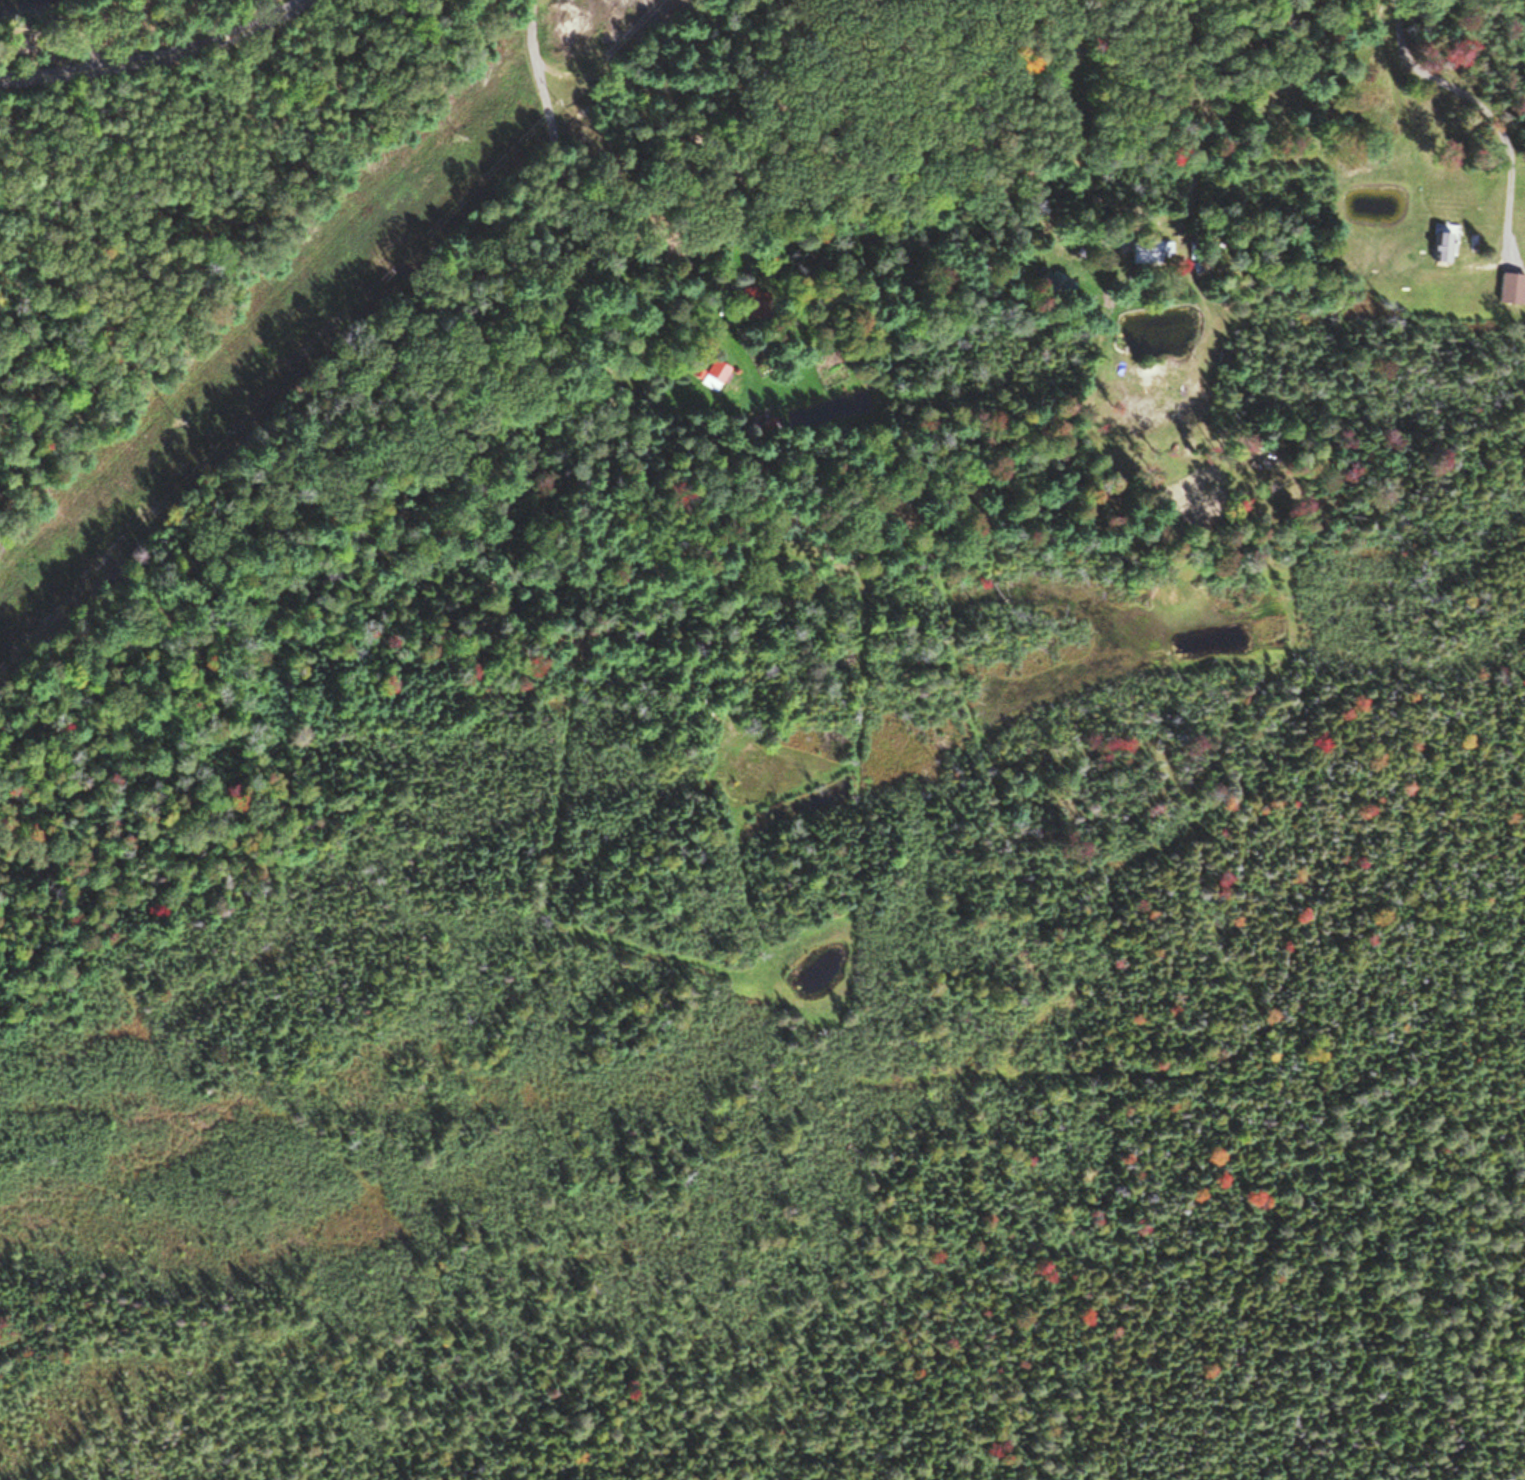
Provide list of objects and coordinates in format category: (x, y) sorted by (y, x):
road: (158, 52)
road: (1487, 107)
road: (989, 119)
power tower: (454, 133)
road: (551, 218)
building: (1437, 247)
building: (1148, 250)
building: (1052, 283)
building: (1505, 283)
building: (750, 301)
building: (712, 374)
power tower: (169, 422)

